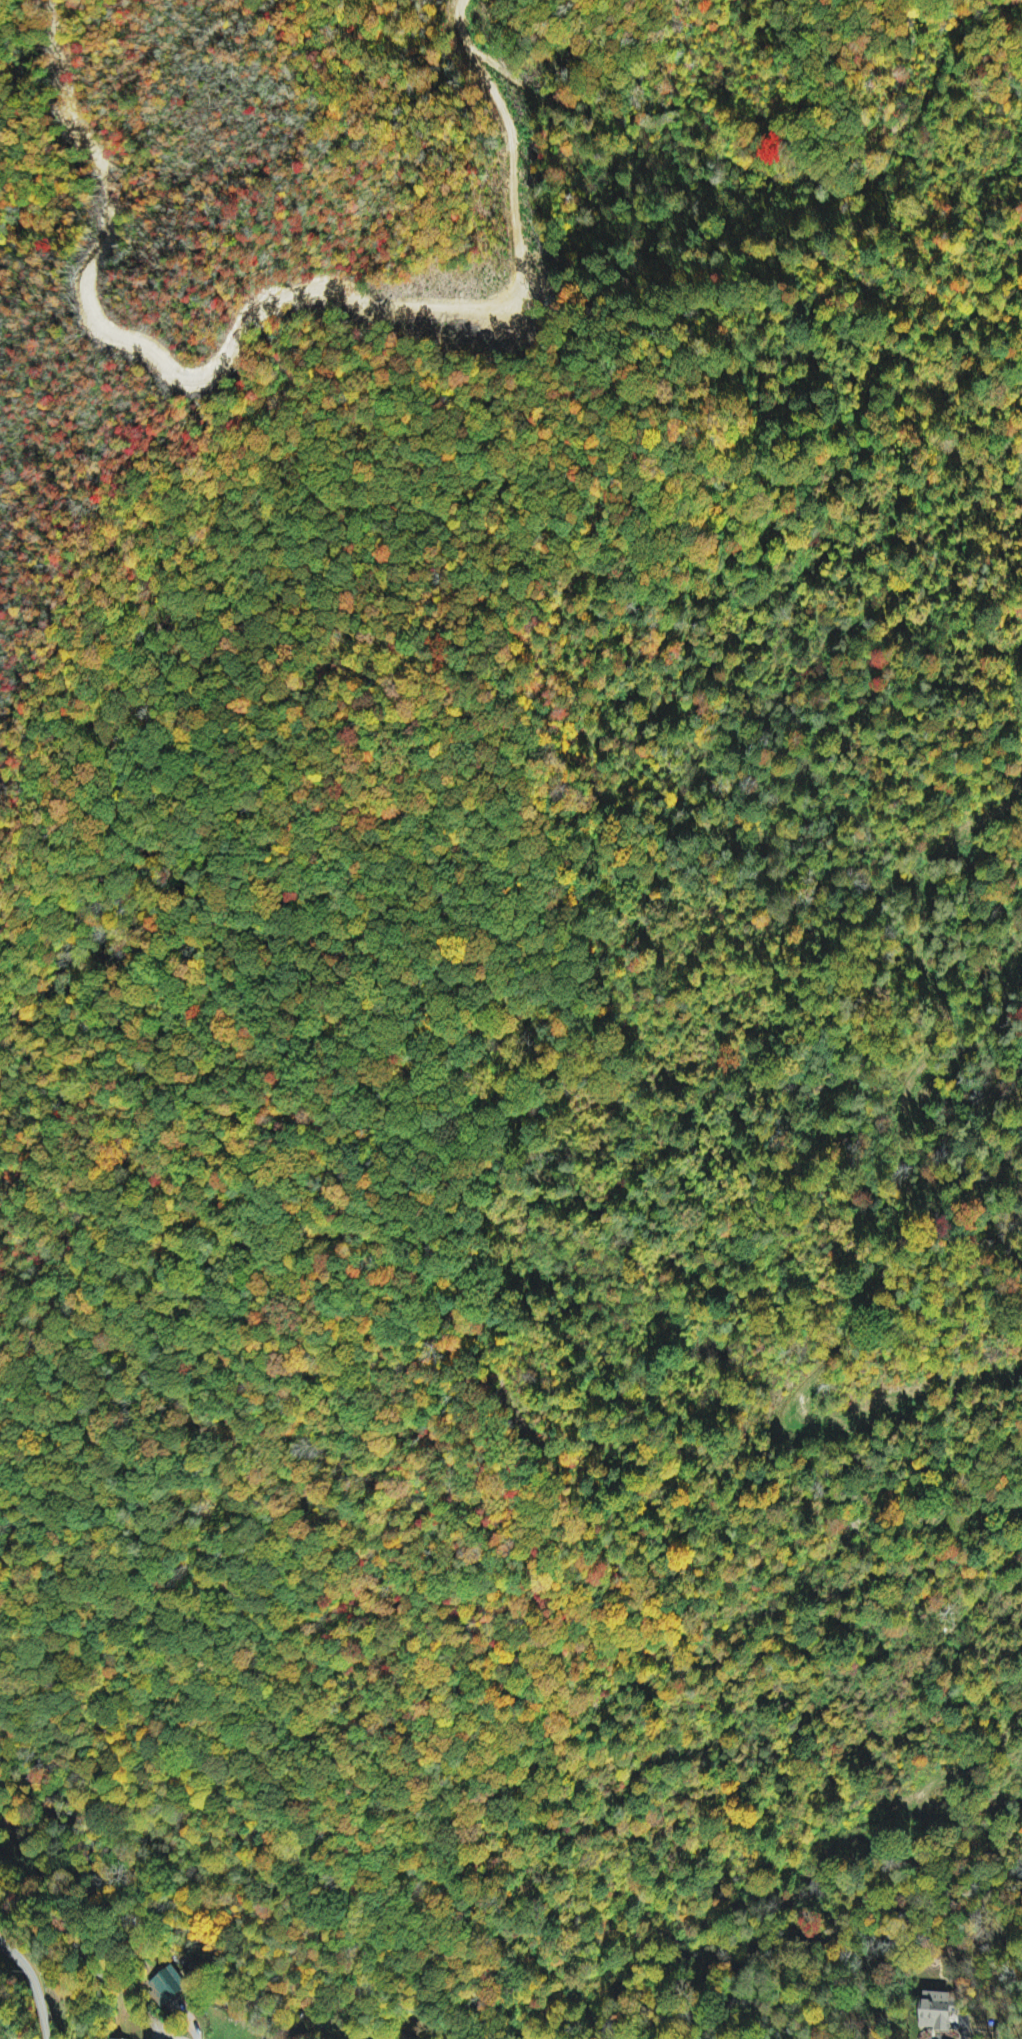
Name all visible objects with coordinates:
road: (30, 1968)
building: (166, 1986)
building: (937, 2009)
road: (146, 2015)
road: (8, 2022)

